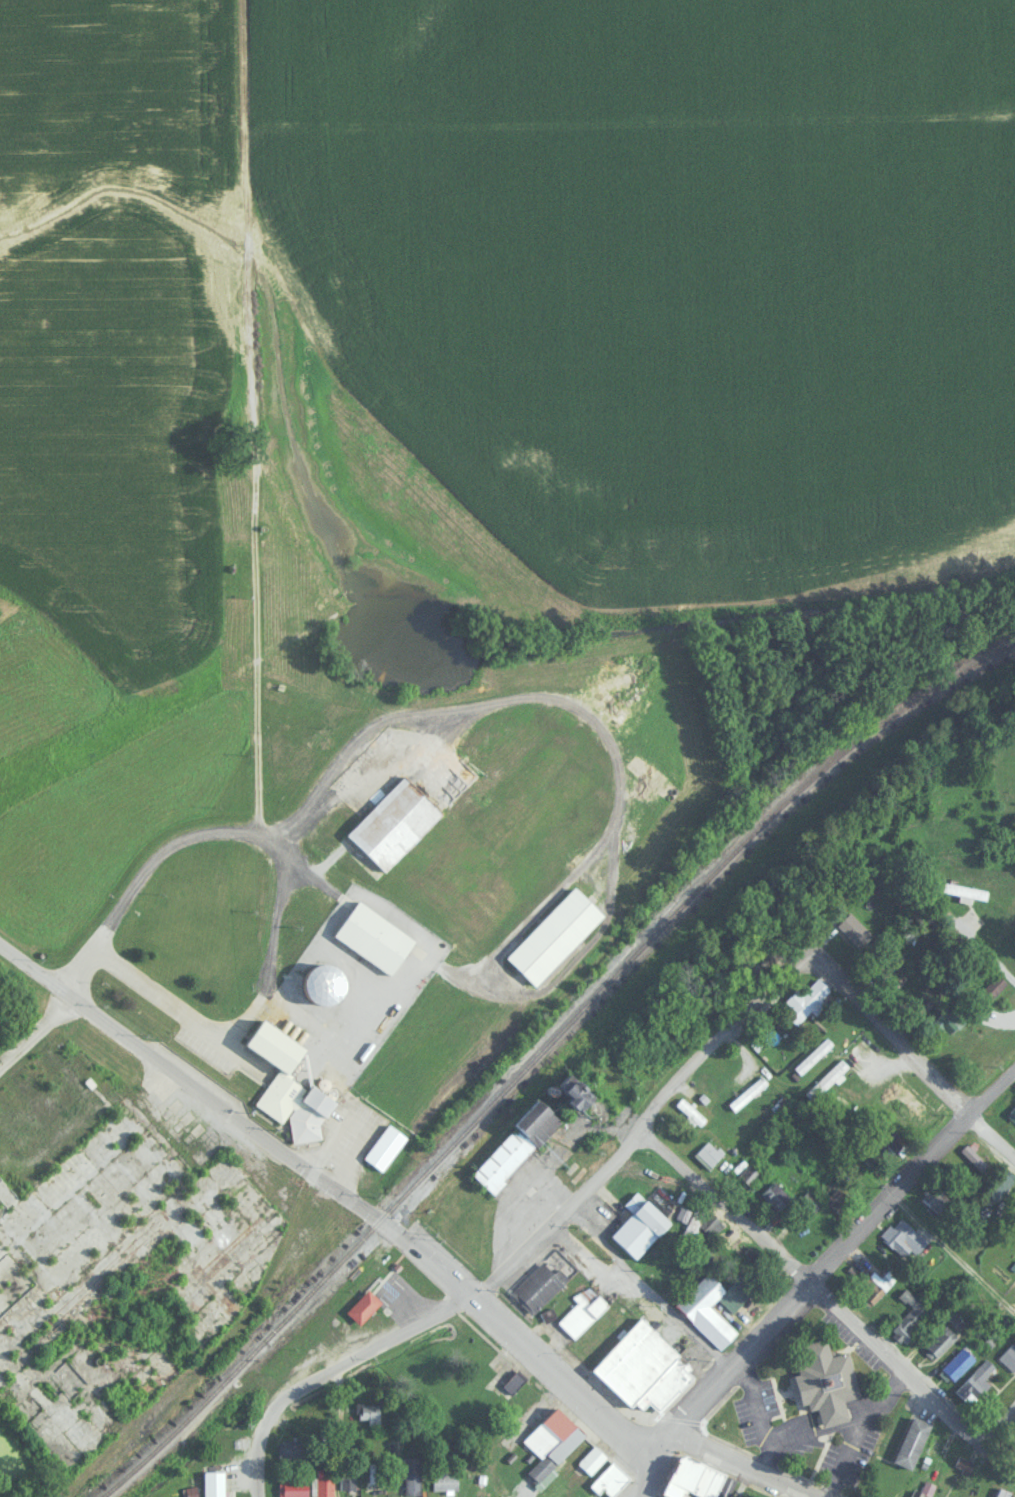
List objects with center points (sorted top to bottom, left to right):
building: (393, 823)
building: (496, 875)
building: (964, 889)
road: (269, 920)
building: (855, 928)
building: (555, 934)
building: (375, 935)
road: (986, 945)
railway: (651, 946)
building: (326, 982)
building: (994, 984)
road: (71, 996)
building: (804, 999)
road: (52, 1011)
building: (947, 1019)
railway: (541, 1046)
road: (911, 1054)
building: (810, 1056)
building: (822, 1079)
building: (290, 1084)
building: (581, 1092)
building: (744, 1097)
building: (907, 1104)
building: (1013, 1108)
building: (689, 1111)
road: (645, 1113)
building: (517, 1144)
building: (889, 1145)
building: (384, 1146)
building: (707, 1153)
building: (973, 1156)
road: (306, 1167)
building: (749, 1173)
building: (996, 1180)
building: (772, 1193)
building: (835, 1197)
building: (934, 1199)
building: (640, 1227)
building: (126, 1230)
building: (903, 1238)
road: (839, 1249)
road: (953, 1252)
road: (803, 1281)
building: (538, 1285)
building: (871, 1287)
road: (634, 1296)
road: (466, 1302)
building: (695, 1308)
building: (581, 1310)
building: (909, 1316)
building: (939, 1340)
building: (1008, 1356)
building: (635, 1361)
building: (957, 1362)
road: (320, 1367)
building: (462, 1368)
road: (553, 1380)
building: (826, 1381)
building: (975, 1381)
building: (472, 1386)
building: (666, 1386)
building: (367, 1412)
road: (995, 1416)
building: (65, 1429)
building: (550, 1430)
road: (870, 1435)
road: (649, 1440)
building: (912, 1441)
building: (291, 1448)
building: (940, 1449)
road: (995, 1453)
building: (555, 1458)
building: (590, 1459)
road: (738, 1460)
building: (962, 1464)
building: (370, 1473)
building: (411, 1474)
road: (635, 1474)
building: (346, 1478)
building: (693, 1478)
building: (610, 1479)
building: (321, 1481)
building: (444, 1481)
building: (213, 1483)
building: (293, 1488)
building: (924, 1490)
building: (1002, 1493)

